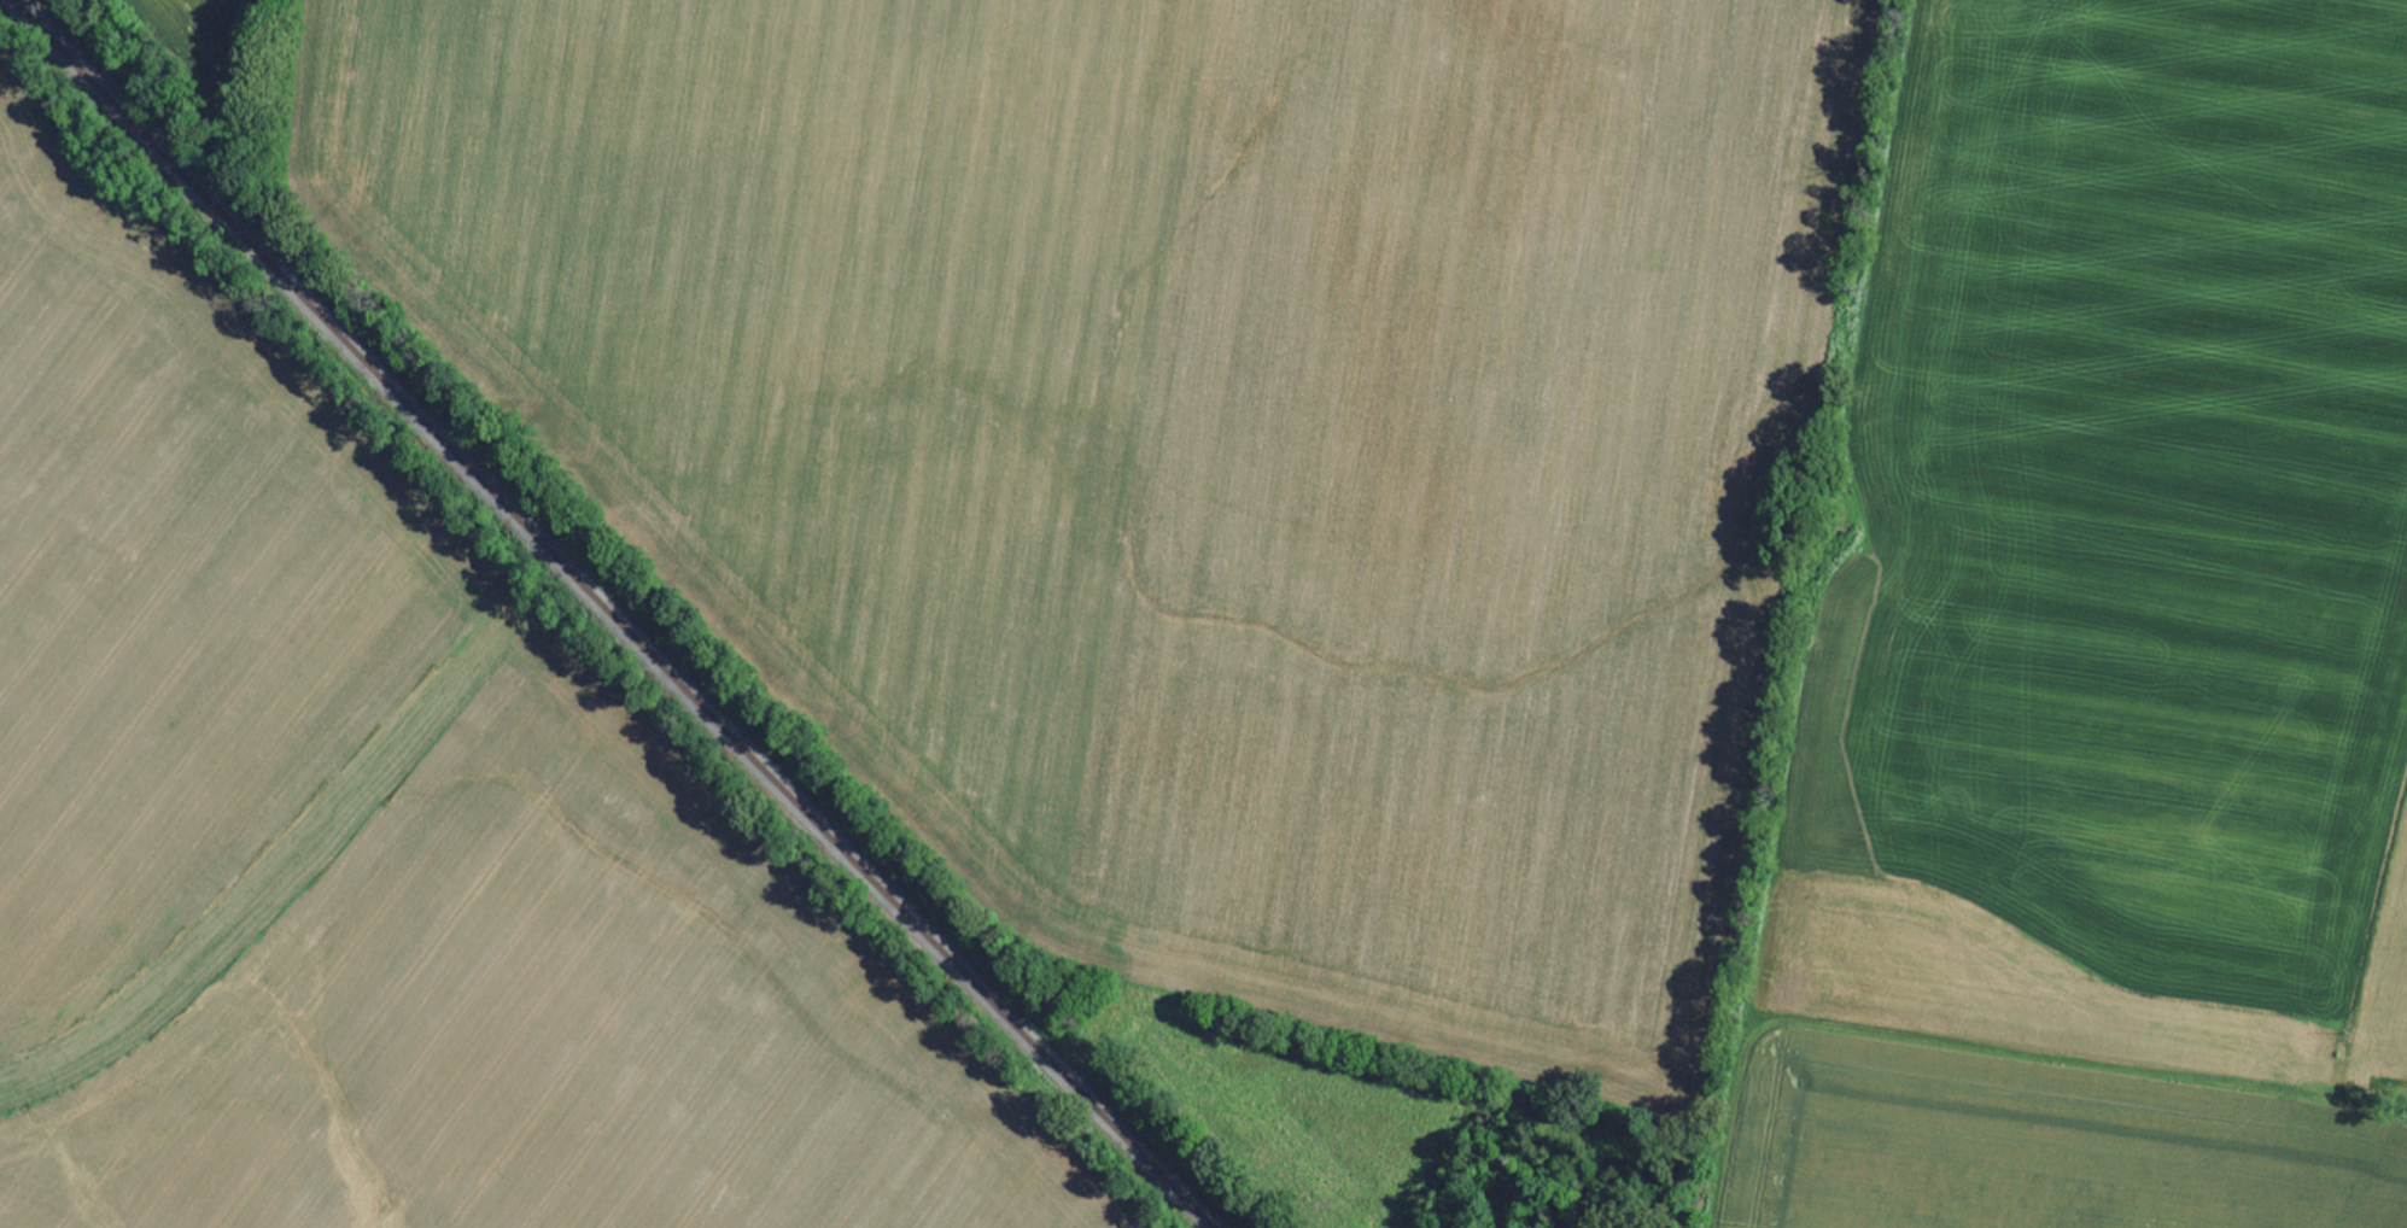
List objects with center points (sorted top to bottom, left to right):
railway: (619, 613)

